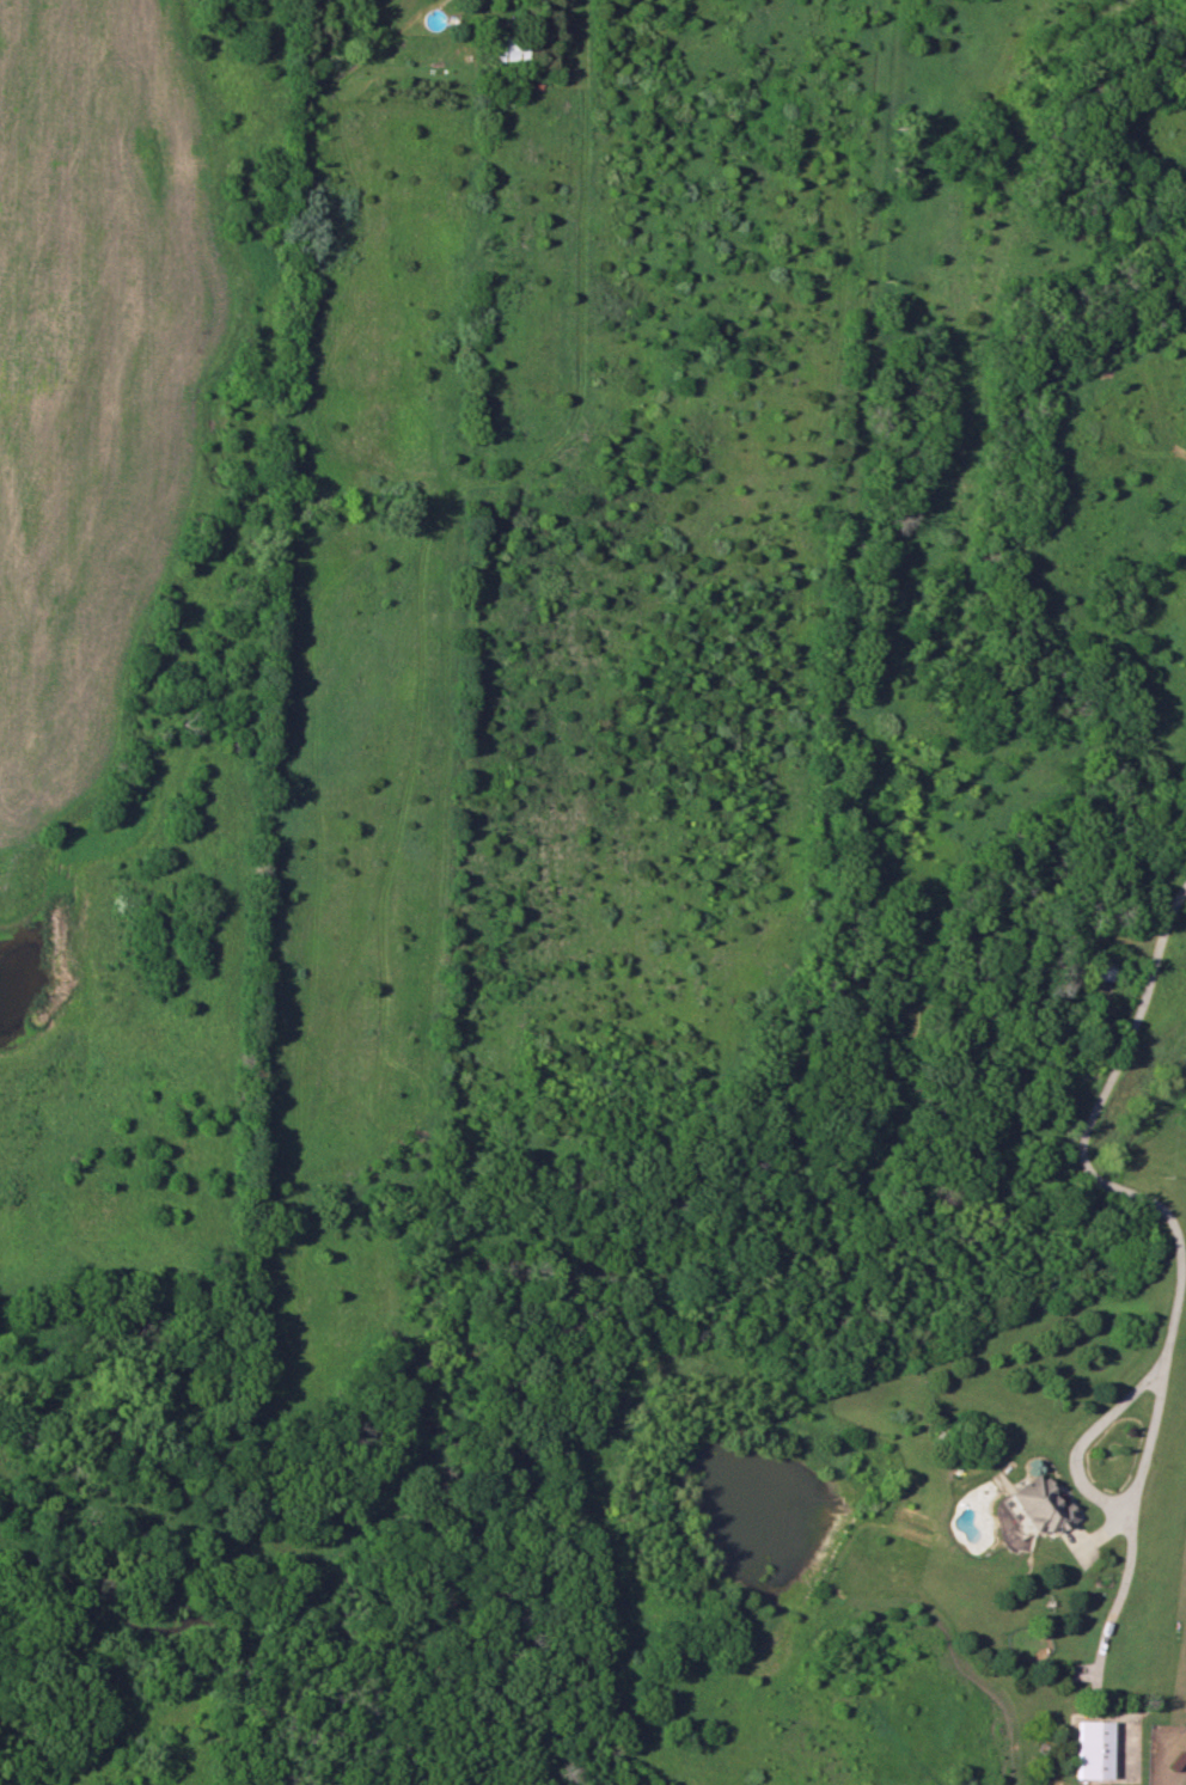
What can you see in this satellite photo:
road: (1080, 1144)
road: (1090, 1492)
building: (1031, 1508)
road: (1118, 1582)
building: (1090, 1749)

